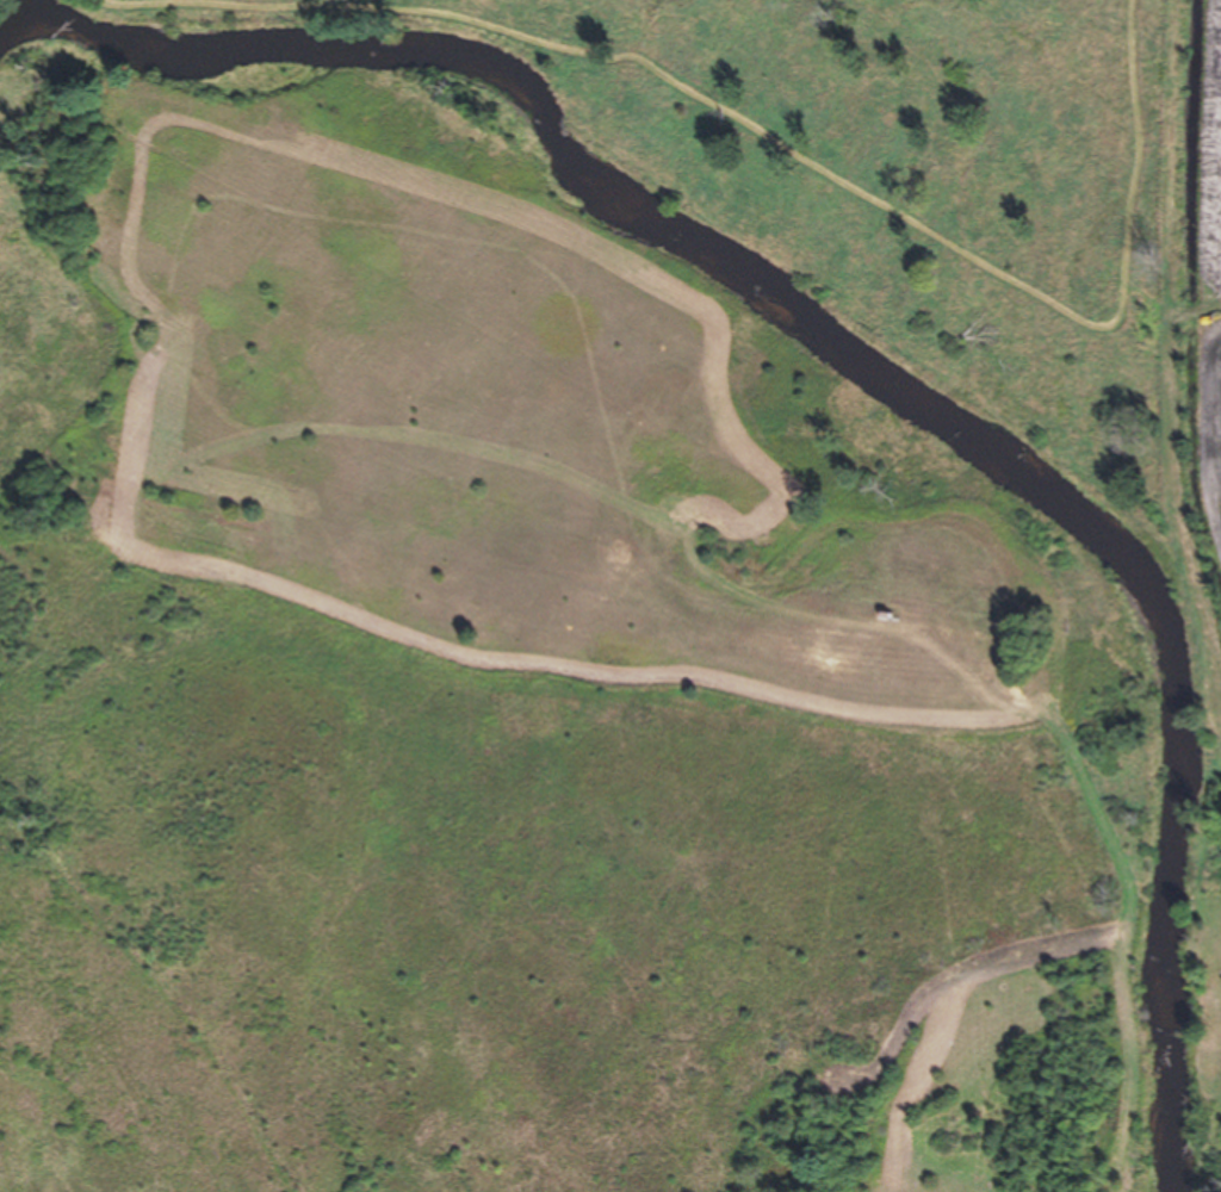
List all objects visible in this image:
river: (862, 359)

